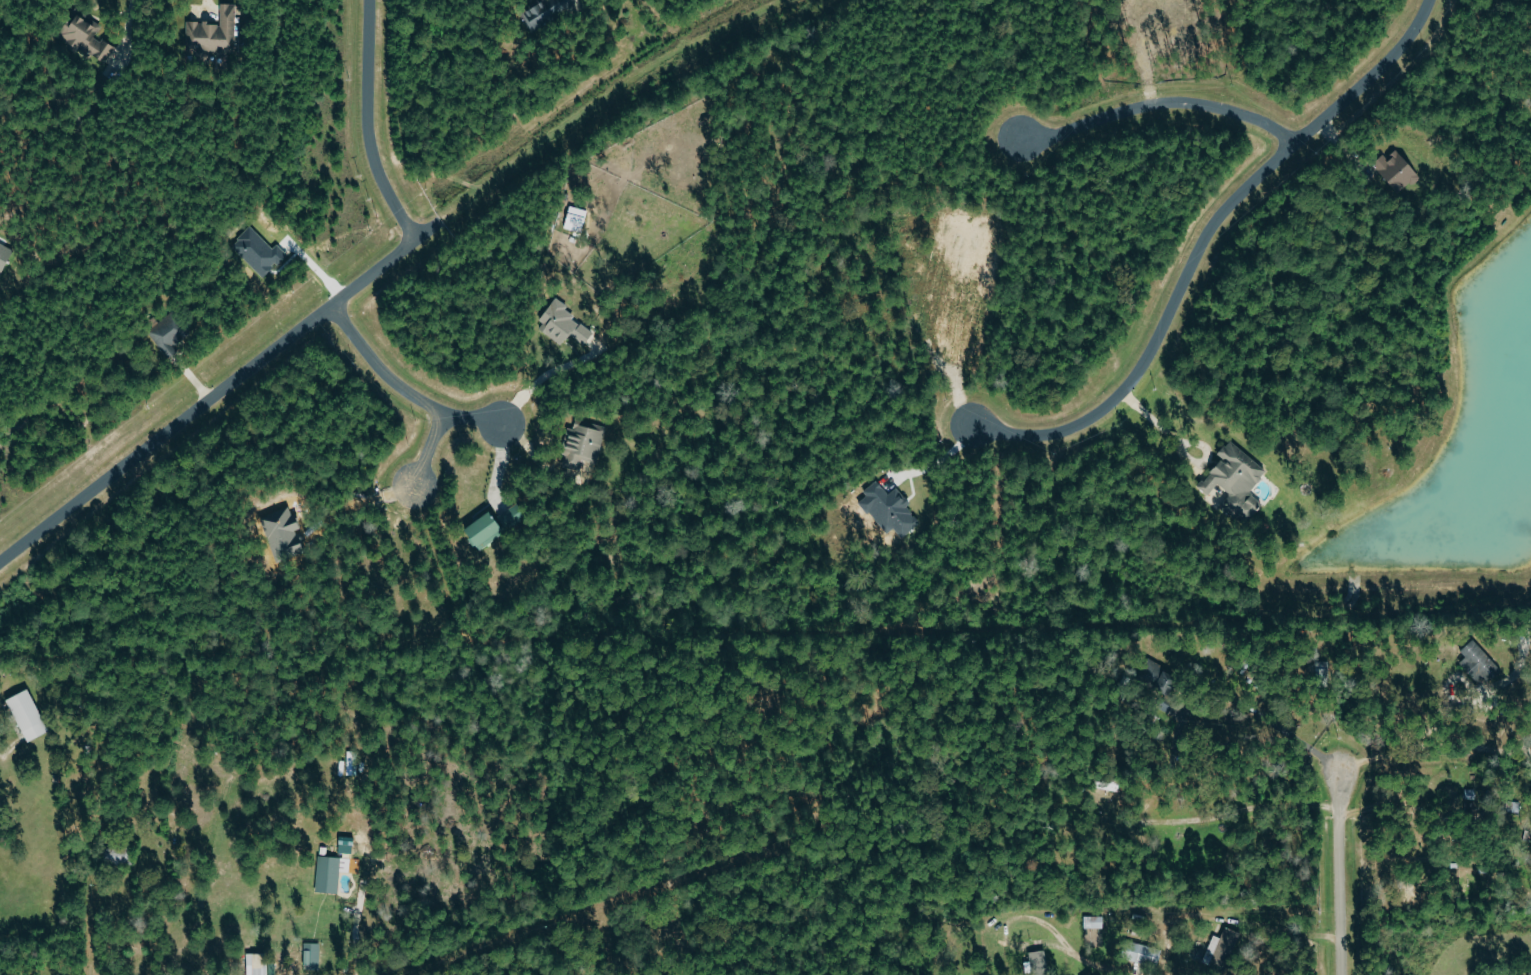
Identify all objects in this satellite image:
building: (543, 13)
road: (134, 23)
building: (212, 33)
building: (85, 36)
road: (1159, 106)
road: (367, 125)
building: (1396, 170)
road: (1203, 243)
building: (563, 325)
building: (166, 334)
road: (536, 375)
road: (392, 384)
road: (208, 398)
building: (582, 444)
road: (430, 449)
road: (1181, 455)
road: (937, 458)
road: (498, 465)
building: (1236, 480)
road: (350, 504)
building: (889, 510)
building: (512, 515)
building: (484, 531)
building: (1479, 663)
building: (1157, 677)
building: (26, 715)
road: (1269, 720)
road: (12, 747)
road: (1405, 748)
road: (1238, 811)
road: (1386, 811)
road: (1339, 872)
building: (329, 873)
building: (1093, 921)
road: (1296, 930)
building: (1222, 946)
building: (1142, 953)
building: (312, 955)
building: (1038, 961)
building: (251, 964)

